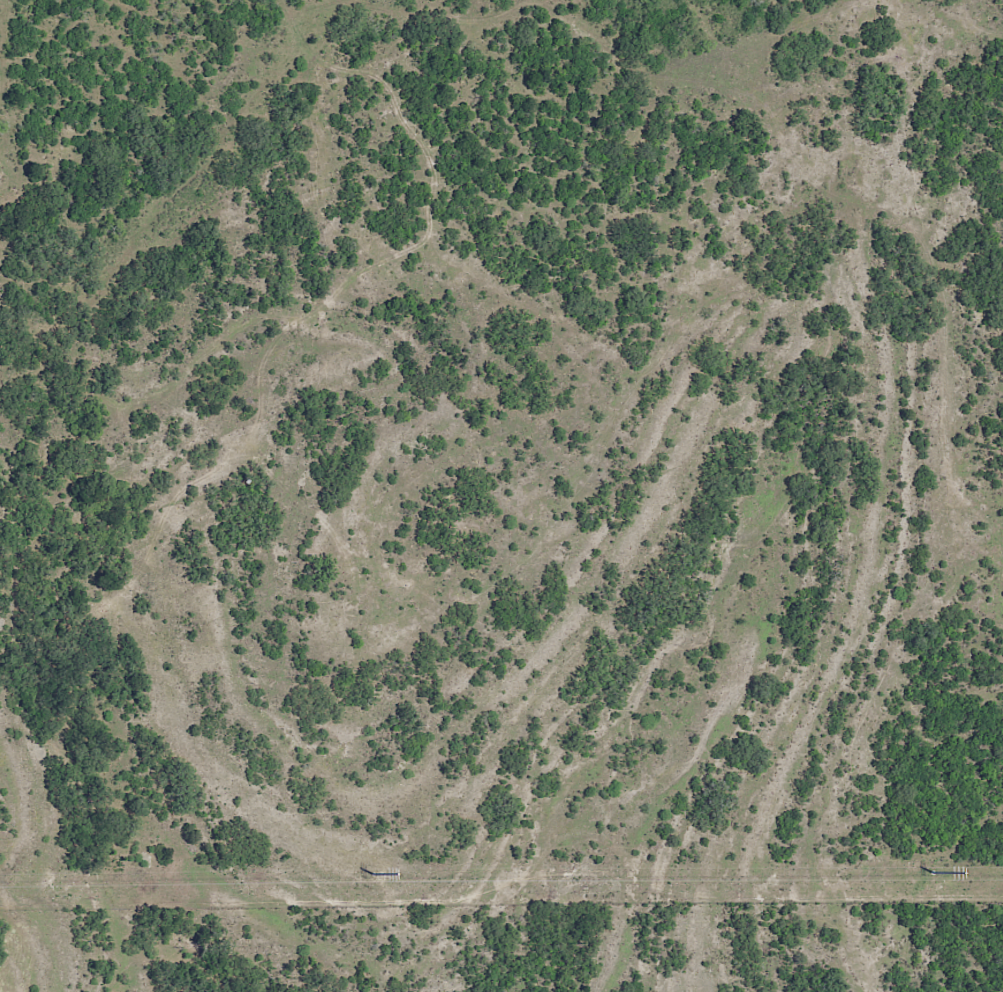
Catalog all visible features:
power tower: (934, 870)
power tower: (375, 872)

